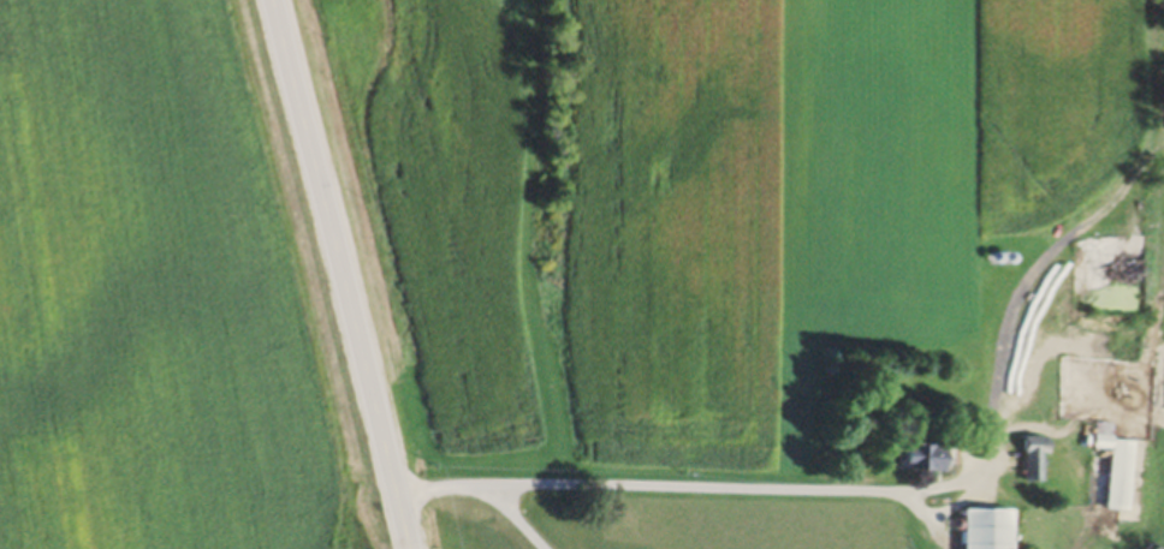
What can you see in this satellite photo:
road: (342, 274)
building: (1043, 353)
building: (1088, 356)
building: (913, 459)
building: (1027, 461)
building: (1117, 477)
road: (885, 494)
road: (517, 518)
building: (980, 531)

